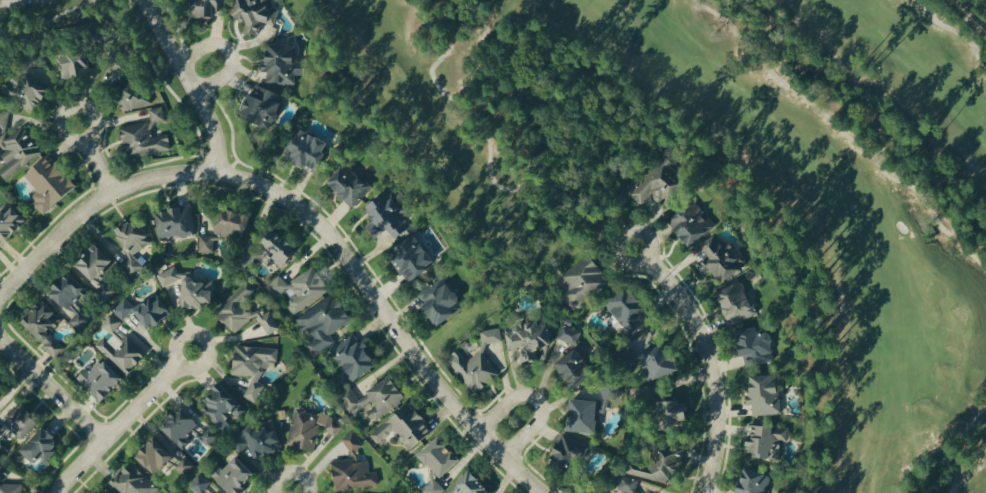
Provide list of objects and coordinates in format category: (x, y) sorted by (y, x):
road: (9, 1)
building: (208, 9)
building: (256, 17)
road: (50, 20)
road: (954, 34)
road: (229, 55)
building: (74, 66)
building: (283, 66)
road: (191, 83)
building: (132, 101)
building: (263, 109)
road: (92, 115)
building: (3, 121)
road: (843, 133)
building: (145, 138)
building: (307, 152)
building: (18, 156)
park: (716, 176)
building: (50, 186)
road: (497, 186)
building: (349, 187)
building: (663, 187)
road: (308, 216)
building: (387, 218)
building: (9, 224)
building: (175, 225)
building: (692, 226)
building: (232, 227)
building: (207, 246)
building: (133, 247)
building: (278, 251)
building: (413, 260)
building: (721, 262)
building: (94, 265)
building: (582, 283)
building: (187, 292)
building: (300, 292)
building: (65, 296)
building: (440, 303)
building: (737, 305)
building: (145, 313)
building: (244, 314)
building: (631, 316)
building: (78, 323)
building: (322, 325)
building: (43, 328)
building: (491, 338)
building: (538, 340)
building: (755, 348)
building: (120, 350)
road: (707, 359)
building: (354, 360)
building: (660, 365)
building: (575, 368)
building: (253, 369)
building: (474, 372)
building: (101, 382)
road: (50, 389)
building: (2, 394)
building: (765, 398)
building: (348, 401)
building: (385, 402)
road: (535, 403)
building: (222, 410)
building: (674, 417)
building: (583, 419)
road: (124, 421)
building: (17, 424)
building: (180, 428)
building: (310, 431)
building: (403, 431)
building: (260, 442)
building: (766, 444)
road: (940, 447)
building: (41, 448)
building: (570, 454)
building: (154, 459)
building: (439, 460)
building: (185, 468)
building: (353, 470)
building: (658, 470)
building: (234, 477)
building: (132, 482)
building: (754, 484)
building: (199, 486)
building: (469, 486)
building: (629, 486)
building: (11, 489)
building: (434, 489)
road: (291, 492)

